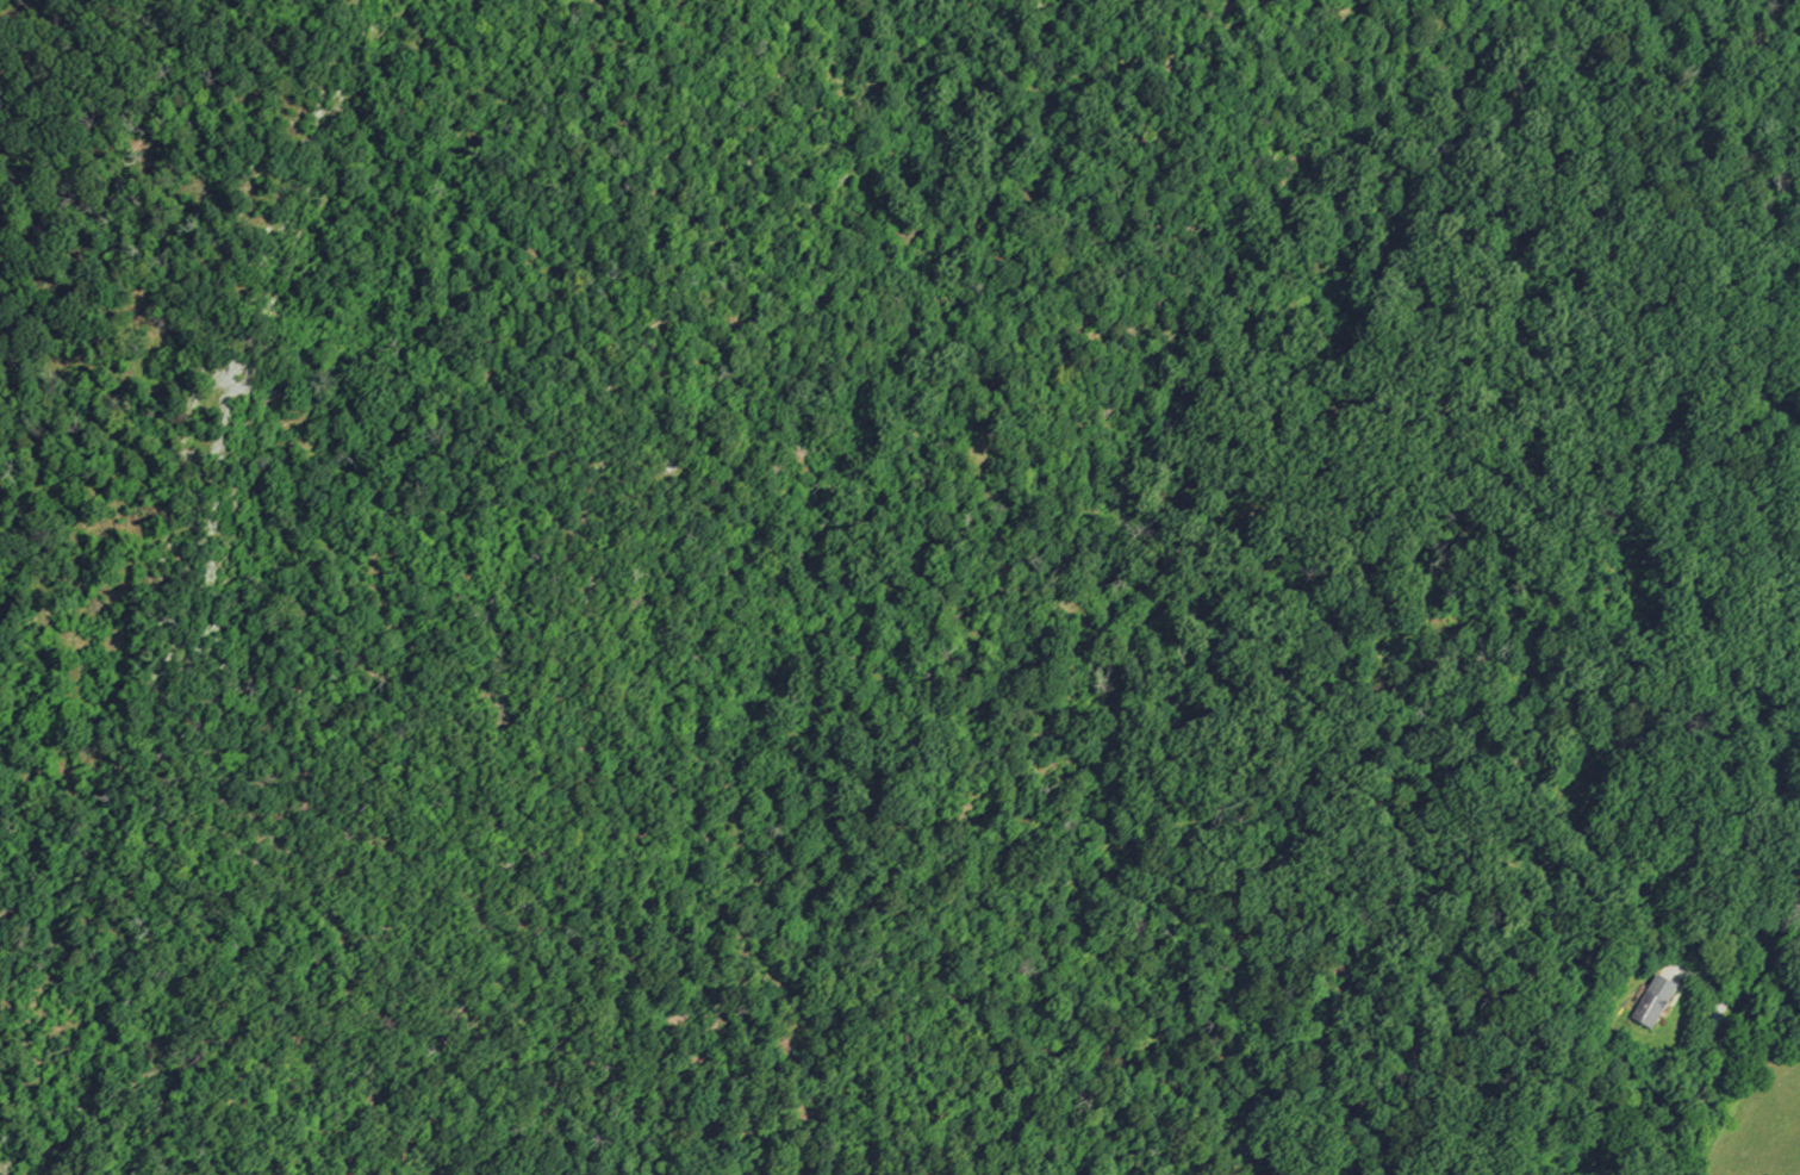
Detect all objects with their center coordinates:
road: (1665, 31)
road: (193, 110)
road: (254, 249)
road: (81, 332)
road: (1433, 352)
road: (144, 552)
road: (555, 648)
road: (1749, 977)
building: (1656, 1001)
road: (1711, 1055)

